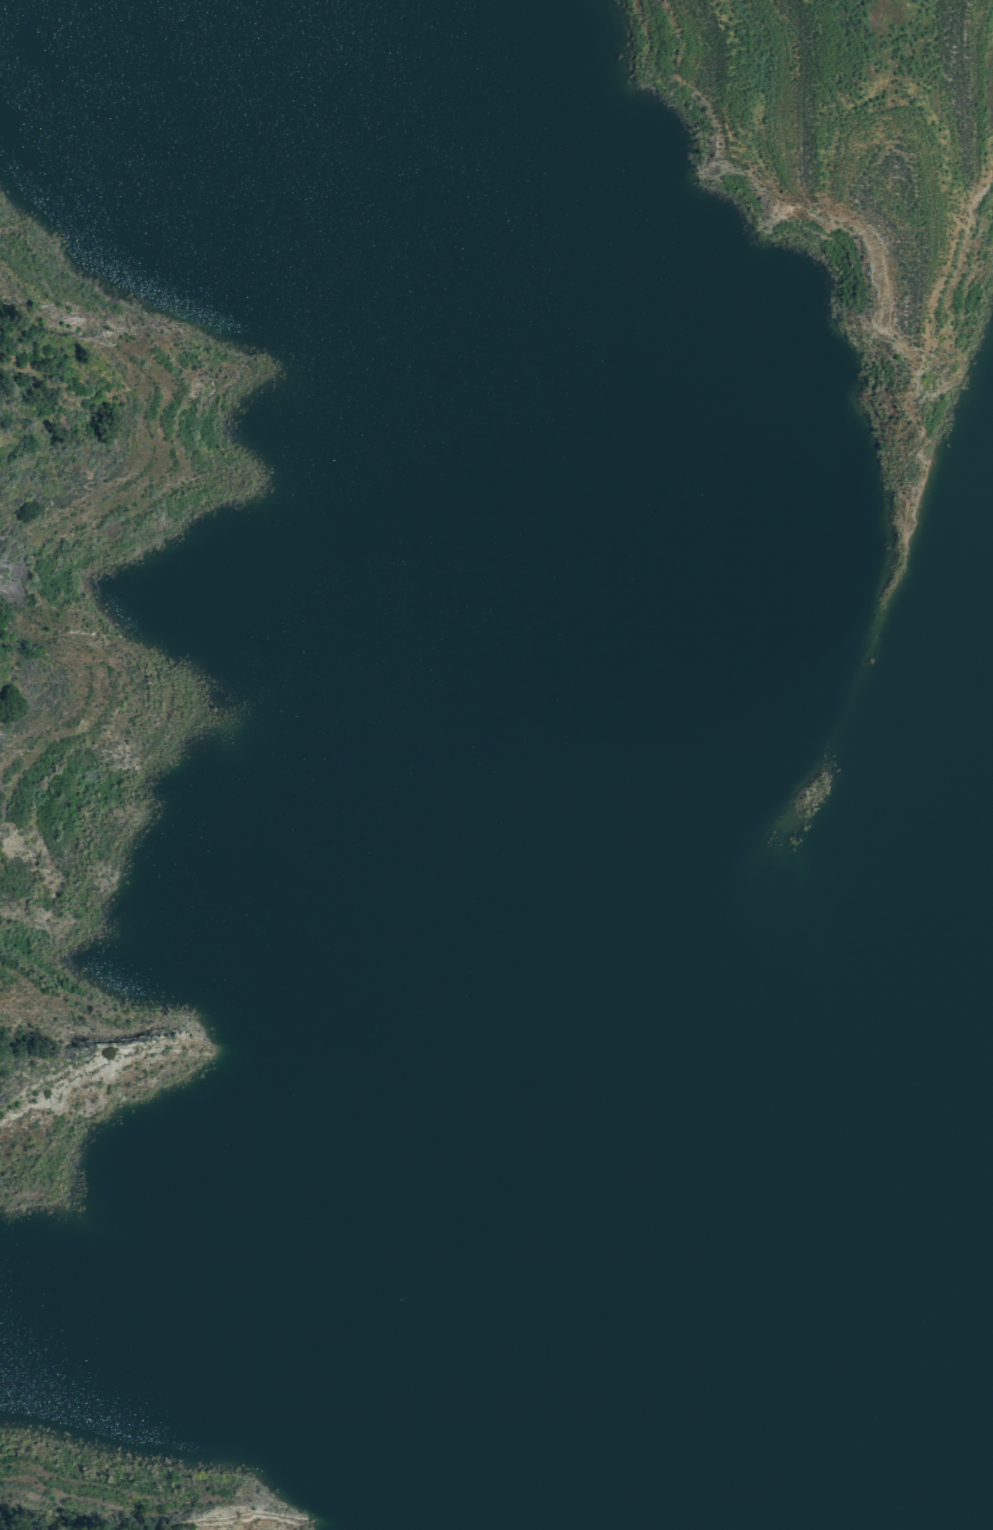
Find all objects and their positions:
park: (847, 211)

